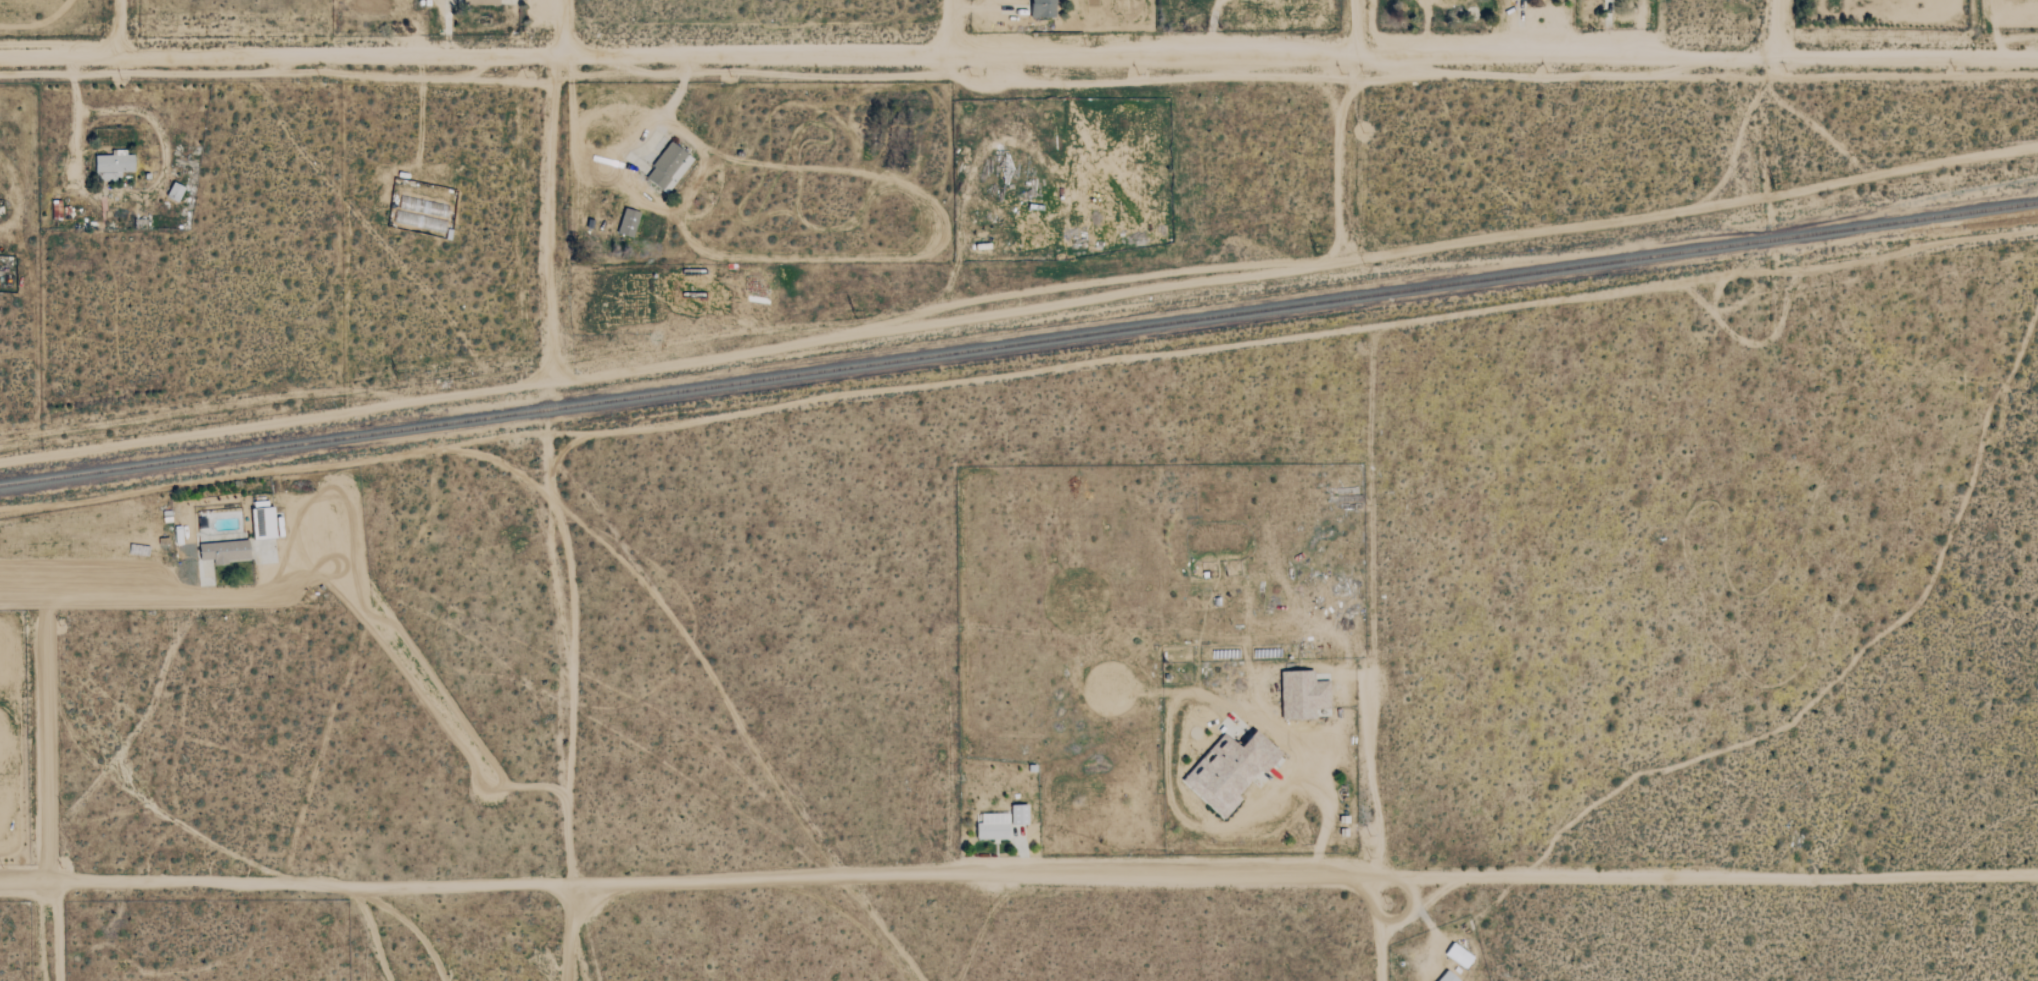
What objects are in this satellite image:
building: (478, 2)
road: (970, 6)
building: (1040, 9)
road: (445, 24)
road: (560, 25)
road: (947, 26)
road: (1213, 26)
road: (118, 27)
road: (1362, 30)
road: (1778, 30)
road: (1019, 54)
road: (420, 108)
road: (73, 126)
road: (609, 154)
building: (115, 166)
building: (665, 167)
power tower: (1777, 188)
building: (177, 192)
road: (21, 196)
building: (625, 222)
power tower: (1318, 253)
road: (1294, 266)
power tower: (853, 312)
railway: (1018, 342)
power tower: (394, 375)
road: (556, 515)
building: (258, 520)
building: (221, 551)
road: (230, 597)
building: (1299, 694)
road: (1369, 760)
building: (1226, 770)
building: (1016, 814)
road: (1324, 828)
building: (988, 830)
road: (1018, 883)
road: (1379, 929)
road: (58, 930)
building: (1455, 955)
building: (1444, 977)

